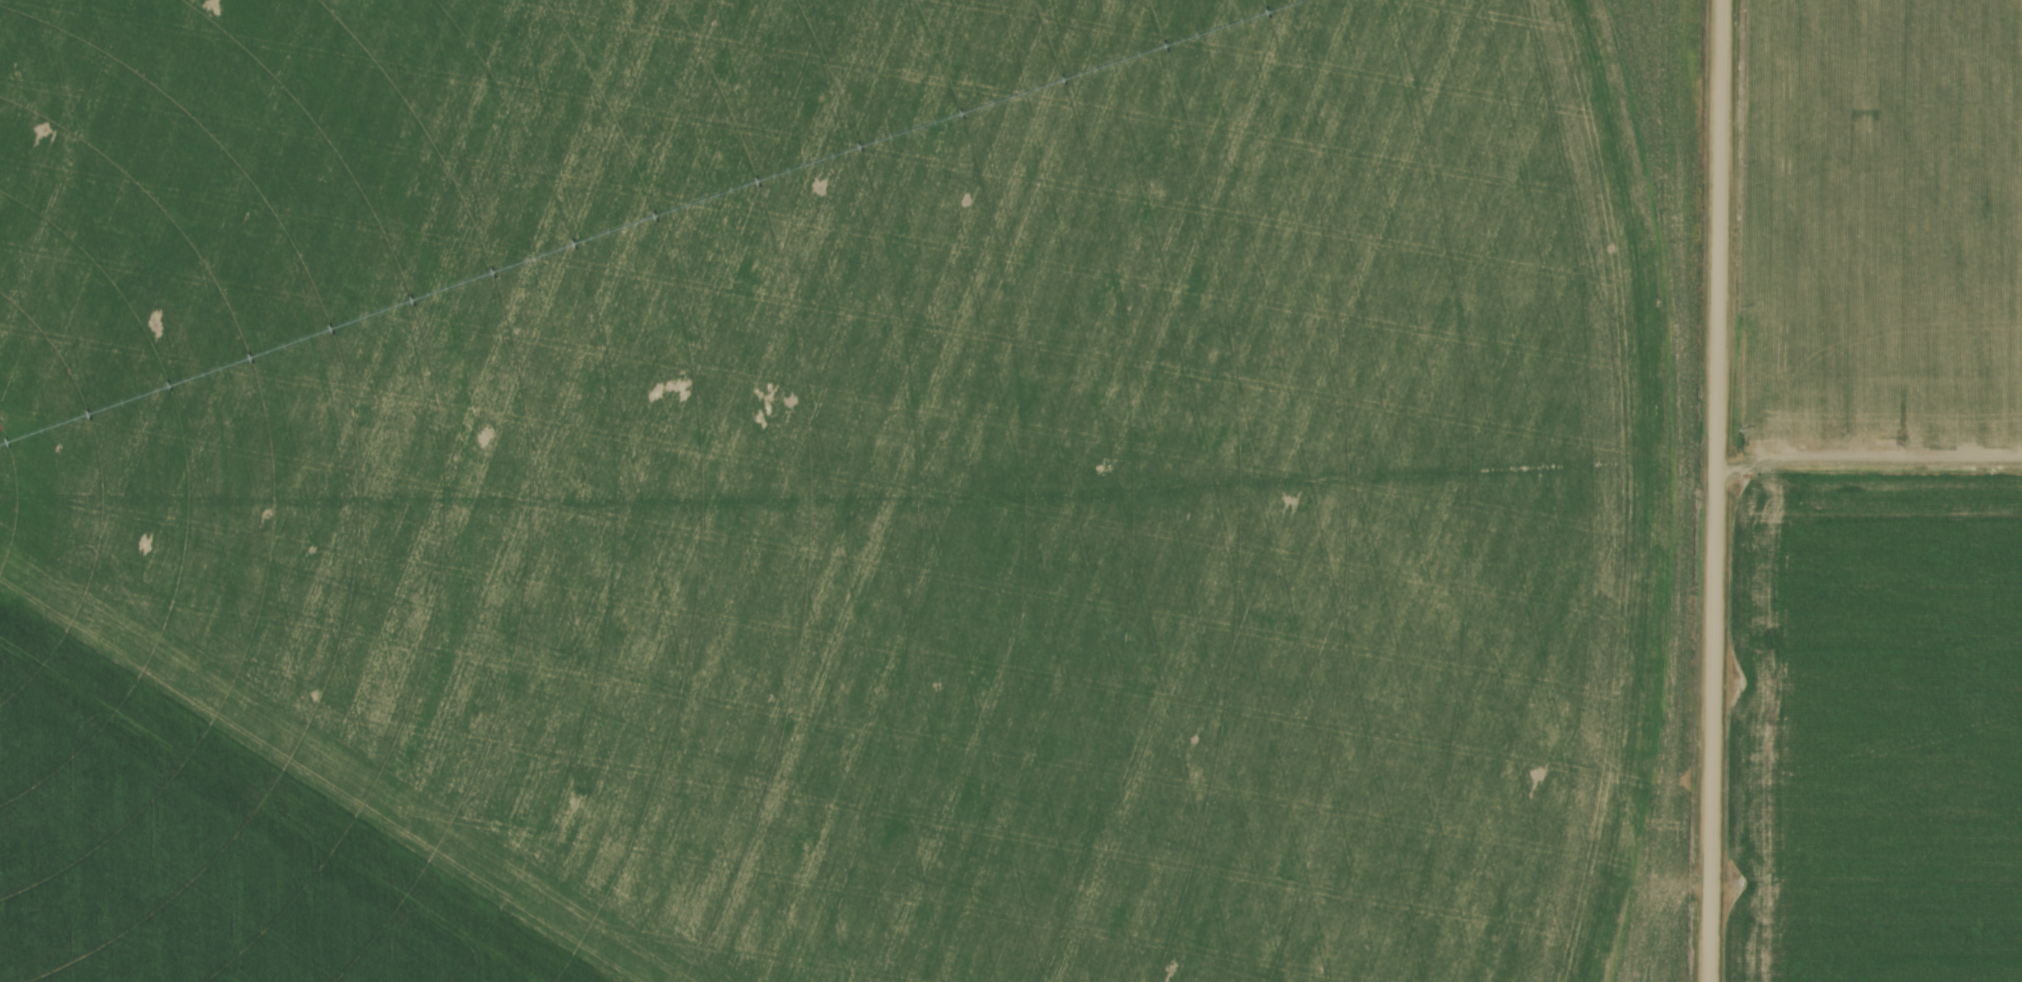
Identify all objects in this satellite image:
road: (1716, 490)

